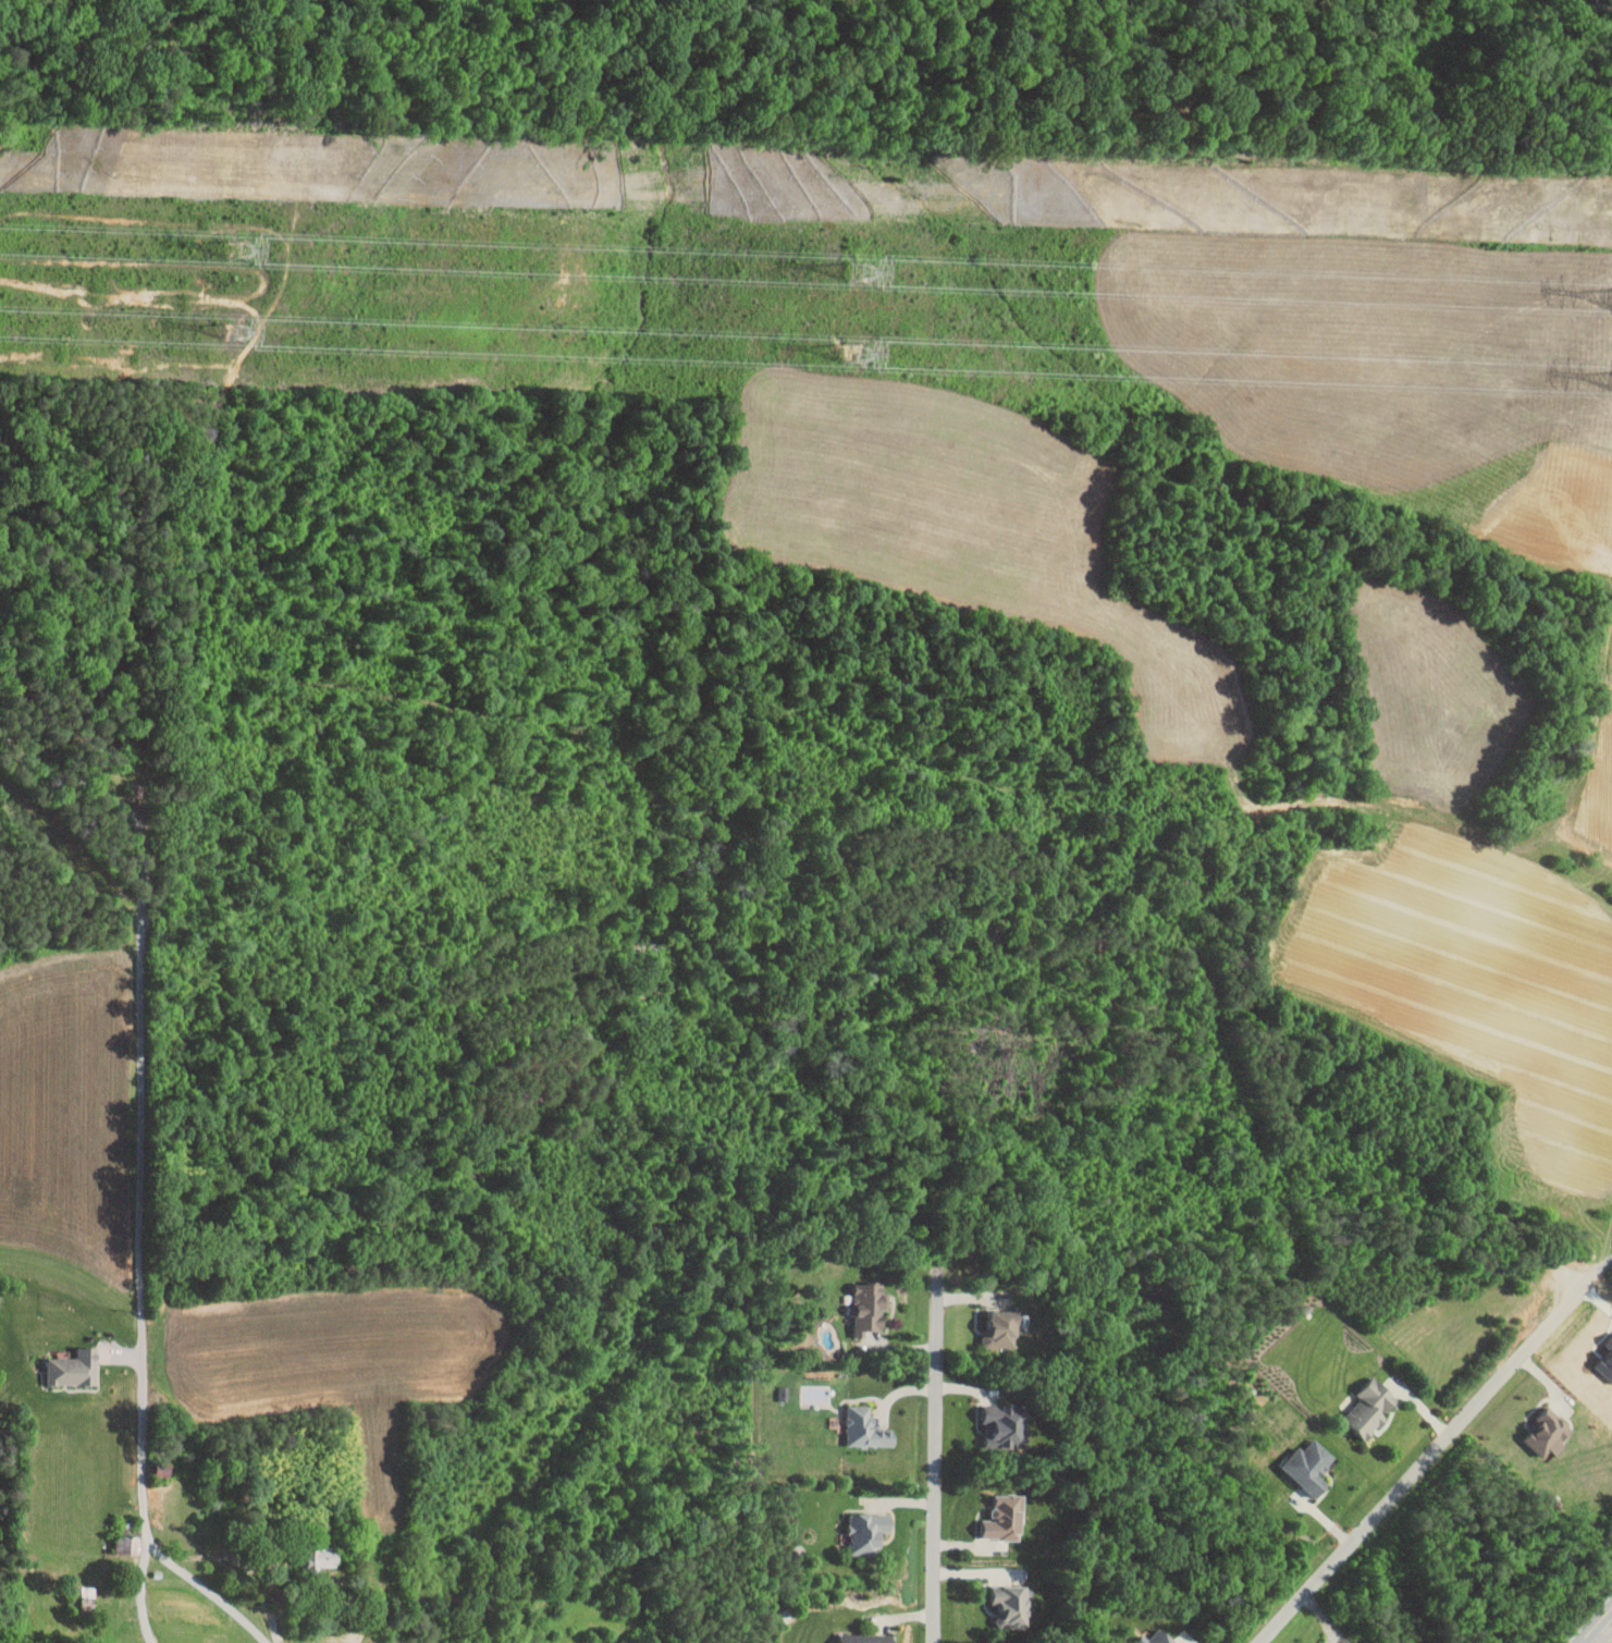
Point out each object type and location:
power tower: (243, 248)
power tower: (863, 273)
power tower: (236, 333)
power tower: (856, 354)
road: (124, 820)
road: (1186, 826)
road: (1605, 1264)
building: (869, 1305)
building: (1004, 1329)
road: (143, 1339)
building: (73, 1368)
building: (1370, 1408)
building: (1004, 1425)
building: (864, 1427)
building: (1548, 1432)
road: (935, 1455)
road: (1429, 1456)
building: (1309, 1466)
building: (1005, 1518)
building: (866, 1531)
building: (320, 1558)
road: (136, 1586)
building: (87, 1599)
building: (1010, 1604)
road: (1597, 1626)
building: (1135, 1632)
building: (865, 1639)
road: (1610, 1641)

